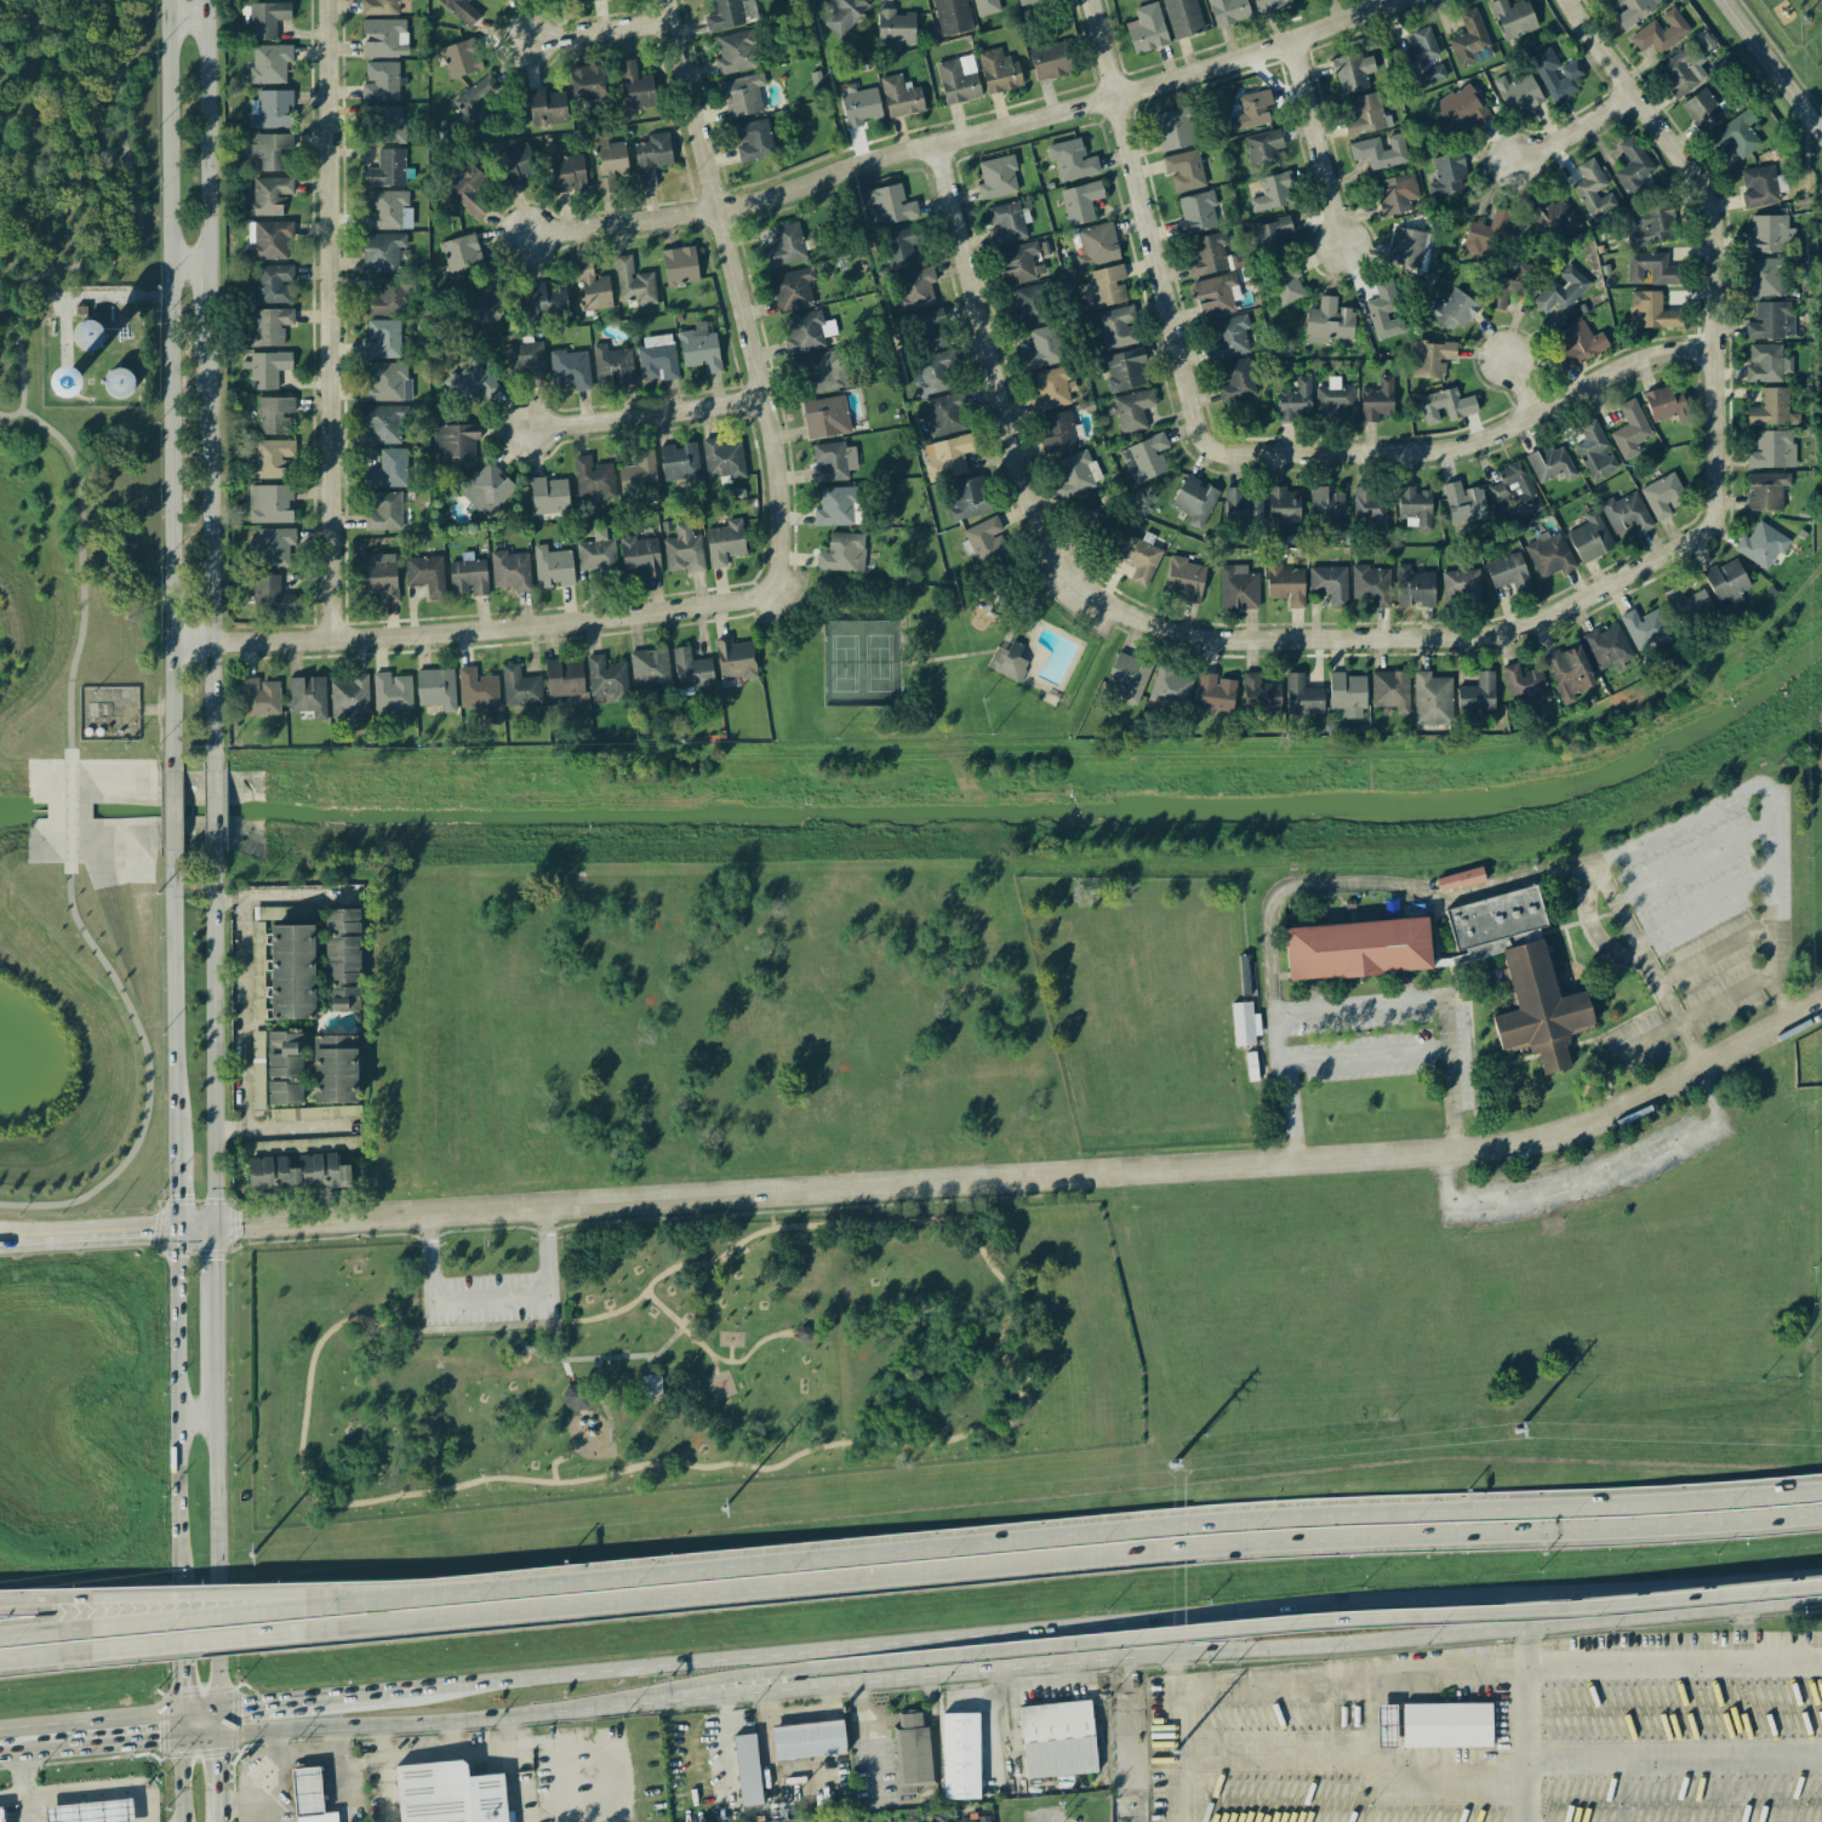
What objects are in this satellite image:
building: (590, 0)
building: (1026, 1)
building: (1268, 4)
building: (378, 6)
building: (986, 6)
building: (1228, 11)
building: (1632, 11)
building: (466, 13)
building: (724, 15)
building: (843, 15)
building: (952, 16)
road: (185, 17)
building: (1182, 17)
building: (267, 18)
building: (1513, 18)
building: (1147, 28)
building: (893, 29)
road: (600, 30)
building: (1662, 32)
building: (383, 36)
building: (1468, 38)
building: (733, 53)
building: (458, 58)
building: (1423, 58)
building: (1049, 61)
building: (269, 63)
road: (1772, 65)
building: (998, 70)
building: (1684, 70)
building: (1352, 72)
building: (1555, 74)
building: (958, 79)
building: (381, 81)
building: (587, 82)
building: (634, 86)
building: (1518, 91)
building: (742, 95)
building: (901, 97)
building: (547, 107)
building: (861, 107)
building: (1462, 107)
building: (472, 108)
building: (270, 109)
building: (1251, 110)
building: (1702, 110)
building: (1365, 114)
building: (388, 124)
building: (1172, 128)
road: (1577, 131)
road: (971, 136)
building: (1736, 136)
building: (754, 141)
road: (1319, 144)
building: (1262, 148)
building: (270, 152)
building: (1378, 152)
building: (651, 158)
building: (1072, 159)
building: (609, 161)
building: (514, 165)
building: (1633, 167)
park: (68, 169)
building: (387, 169)
building: (1184, 170)
building: (567, 172)
building: (1446, 173)
building: (996, 177)
building: (1759, 185)
building: (467, 187)
building: (1593, 189)
building: (1272, 192)
building: (1397, 193)
building: (269, 195)
road: (1141, 199)
building: (1080, 201)
building: (891, 204)
building: (388, 211)
building: (1196, 211)
building: (1552, 218)
building: (1005, 223)
building: (1649, 224)
building: (1485, 234)
building: (1770, 234)
building: (1268, 238)
building: (269, 239)
building: (784, 245)
building: (1096, 245)
building: (1407, 247)
building: (898, 249)
road: (131, 250)
building: (382, 252)
building: (461, 255)
building: (1209, 255)
road: (187, 263)
road: (732, 263)
building: (1018, 263)
building: (680, 265)
building: (1650, 268)
road: (1717, 274)
building: (1764, 276)
building: (274, 282)
building: (633, 282)
building: (1286, 285)
building: (1510, 285)
building: (1104, 286)
building: (592, 287)
building: (915, 287)
building: (793, 289)
building: (1561, 290)
road: (85, 295)
building: (1216, 295)
building: (387, 297)
building: (547, 301)
building: (487, 305)
building: (1028, 305)
building: (1452, 309)
building: (1384, 310)
building: (1653, 310)
road: (330, 320)
building: (1771, 320)
building: (1329, 321)
building: (269, 326)
building: (1116, 326)
building: (926, 330)
road: (984, 330)
building: (804, 332)
building: (88, 335)
building: (1228, 337)
building: (382, 338)
building: (1578, 344)
building: (699, 348)
building: (1040, 348)
building: (526, 358)
building: (657, 358)
building: (1432, 359)
building: (1766, 364)
building: (612, 365)
building: (267, 369)
building: (570, 369)
building: (1125, 370)
building: (821, 372)
building: (930, 376)
building: (1234, 379)
building: (63, 382)
building: (387, 382)
building: (119, 383)
building: (470, 383)
road: (167, 384)
road: (206, 385)
road: (1518, 387)
building: (1296, 398)
building: (1332, 398)
building: (1377, 400)
building: (1666, 404)
building: (1445, 405)
building: (1772, 409)
building: (1132, 410)
building: (274, 415)
road: (650, 415)
building: (944, 415)
building: (826, 417)
building: (383, 423)
building: (1630, 429)
building: (1057, 430)
building: (455, 442)
road: (1447, 446)
building: (1772, 450)
building: (1594, 451)
building: (947, 456)
building: (272, 457)
building: (1146, 457)
building: (722, 458)
building: (680, 462)
building: (829, 462)
building: (1550, 463)
building: (388, 469)
building: (639, 472)
building: (1075, 474)
building: (593, 478)
building: (487, 489)
building: (1515, 489)
building: (1766, 490)
building: (549, 495)
building: (1663, 495)
building: (969, 498)
building: (1195, 499)
building: (1463, 502)
building: (270, 503)
building: (1244, 504)
building: (1369, 504)
building: (1415, 504)
building: (1283, 506)
building: (1327, 506)
building: (834, 507)
building: (381, 510)
building: (1626, 513)
building: (1589, 537)
building: (983, 539)
building: (724, 542)
building: (1760, 544)
building: (270, 547)
building: (684, 549)
building: (596, 552)
building: (843, 553)
building: (1549, 554)
building: (640, 555)
building: (1140, 559)
road: (80, 564)
building: (553, 566)
building: (510, 570)
building: (1508, 572)
building: (425, 573)
building: (378, 576)
building: (468, 577)
building: (1184, 578)
building: (1329, 583)
building: (1461, 583)
building: (1285, 584)
building: (1370, 584)
building: (1413, 586)
building: (1238, 587)
building: (269, 593)
parking lot: (1075, 596)
parking lot: (776, 598)
building: (1685, 599)
road: (502, 628)
building: (1644, 628)
road: (1329, 640)
building: (1607, 647)
road: (988, 653)
park: (930, 656)
building: (735, 659)
building: (1009, 662)
park: (859, 664)
building: (650, 667)
building: (691, 669)
building: (1569, 672)
building: (1127, 676)
building: (564, 678)
building: (606, 678)
building: (1524, 684)
building: (519, 686)
building: (1170, 686)
building: (436, 687)
building: (478, 690)
building: (1390, 690)
building: (392, 691)
building: (1215, 692)
building: (1477, 693)
building: (307, 695)
building: (1347, 695)
building: (349, 696)
building: (1260, 696)
building: (1302, 696)
building: (259, 697)
building: (1430, 699)
road: (1764, 790)
river: (22, 809)
river: (69, 809)
river: (982, 809)
road: (68, 810)
road: (169, 811)
road: (212, 811)
road: (1689, 864)
building: (1460, 879)
road: (1303, 886)
road: (227, 901)
road: (1700, 910)
building: (1496, 923)
road: (1590, 927)
building: (1358, 948)
road: (1710, 958)
building: (342, 959)
road: (242, 963)
road: (1646, 967)
building: (291, 971)
road: (171, 983)
road: (1780, 999)
road: (1361, 1009)
building: (1538, 1009)
park: (78, 1012)
road: (1689, 1018)
building: (1244, 1024)
road: (212, 1038)
road: (1367, 1059)
building: (284, 1068)
building: (335, 1068)
building: (257, 1069)
road: (1451, 1074)
road: (148, 1079)
road: (1708, 1096)
building: (296, 1114)
road: (284, 1129)
road: (173, 1171)
road: (1097, 1171)
building: (299, 1172)
road: (1559, 1188)
traffic signals: (175, 1193)
road: (276, 1223)
traffic signals: (239, 1226)
road: (194, 1228)
traffic signals: (148, 1230)
road: (101, 1233)
road: (15, 1234)
road: (15, 1239)
traffic signals: (213, 1258)
road: (487, 1300)
parking lot: (489, 1301)
road: (213, 1309)
road: (491, 1329)
building: (805, 1331)
road: (731, 1352)
road: (712, 1354)
road: (592, 1358)
park: (678, 1360)
road: (650, 1363)
road: (714, 1364)
road: (569, 1372)
building: (651, 1384)
building: (577, 1394)
road: (600, 1400)
road: (175, 1404)
road: (195, 1417)
road: (609, 1422)
power tower: (1517, 1432)
road: (853, 1440)
road: (559, 1460)
power tower: (1173, 1464)
power tower: (724, 1508)
road: (1209, 1526)
road: (216, 1549)
power tower: (253, 1557)
road: (1061, 1564)
road: (450, 1587)
railway: (910, 1587)
road: (201, 1594)
road: (51, 1597)
road: (1497, 1598)
road: (451, 1599)
road: (1473, 1615)
road: (206, 1623)
road: (1498, 1630)
road: (1746, 1633)
road: (1175, 1637)
road: (53, 1638)
road: (206, 1656)
road: (1120, 1657)
road: (1673, 1657)
road: (177, 1660)
road: (741, 1660)
road: (850, 1666)
road: (53, 1670)
road: (1176, 1672)
road: (1349, 1674)
road: (822, 1686)
road: (1035, 1686)
traffic signals: (178, 1689)
road: (262, 1702)
traffic signals: (241, 1706)
road: (198, 1709)
road: (1523, 1709)
road: (530, 1715)
road: (1370, 1718)
road: (88, 1719)
building: (1386, 1725)
building: (1446, 1725)
road: (348, 1726)
road: (199, 1738)
road: (867, 1738)
building: (1057, 1738)
building: (807, 1740)
traffic signals: (156, 1743)
road: (105, 1747)
building: (913, 1753)
road: (16, 1755)
building: (960, 1755)
road: (1177, 1757)
traffic signals: (218, 1758)
road: (304, 1759)
road: (1500, 1763)
road: (218, 1765)
building: (747, 1769)
road: (179, 1781)
road: (23, 1788)
road: (97, 1789)
building: (449, 1794)
road: (12, 1795)
building: (309, 1797)
road: (245, 1804)
building: (91, 1811)
building: (1, 1815)
building: (943, 1817)
building: (975, 1818)
building: (908, 1821)

